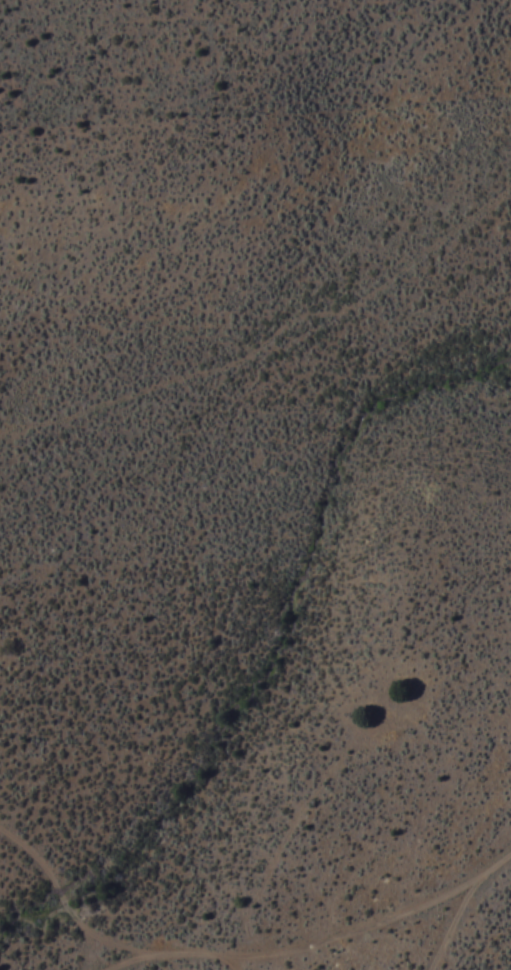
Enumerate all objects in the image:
road: (464, 904)
road: (220, 956)
road: (255, 965)

